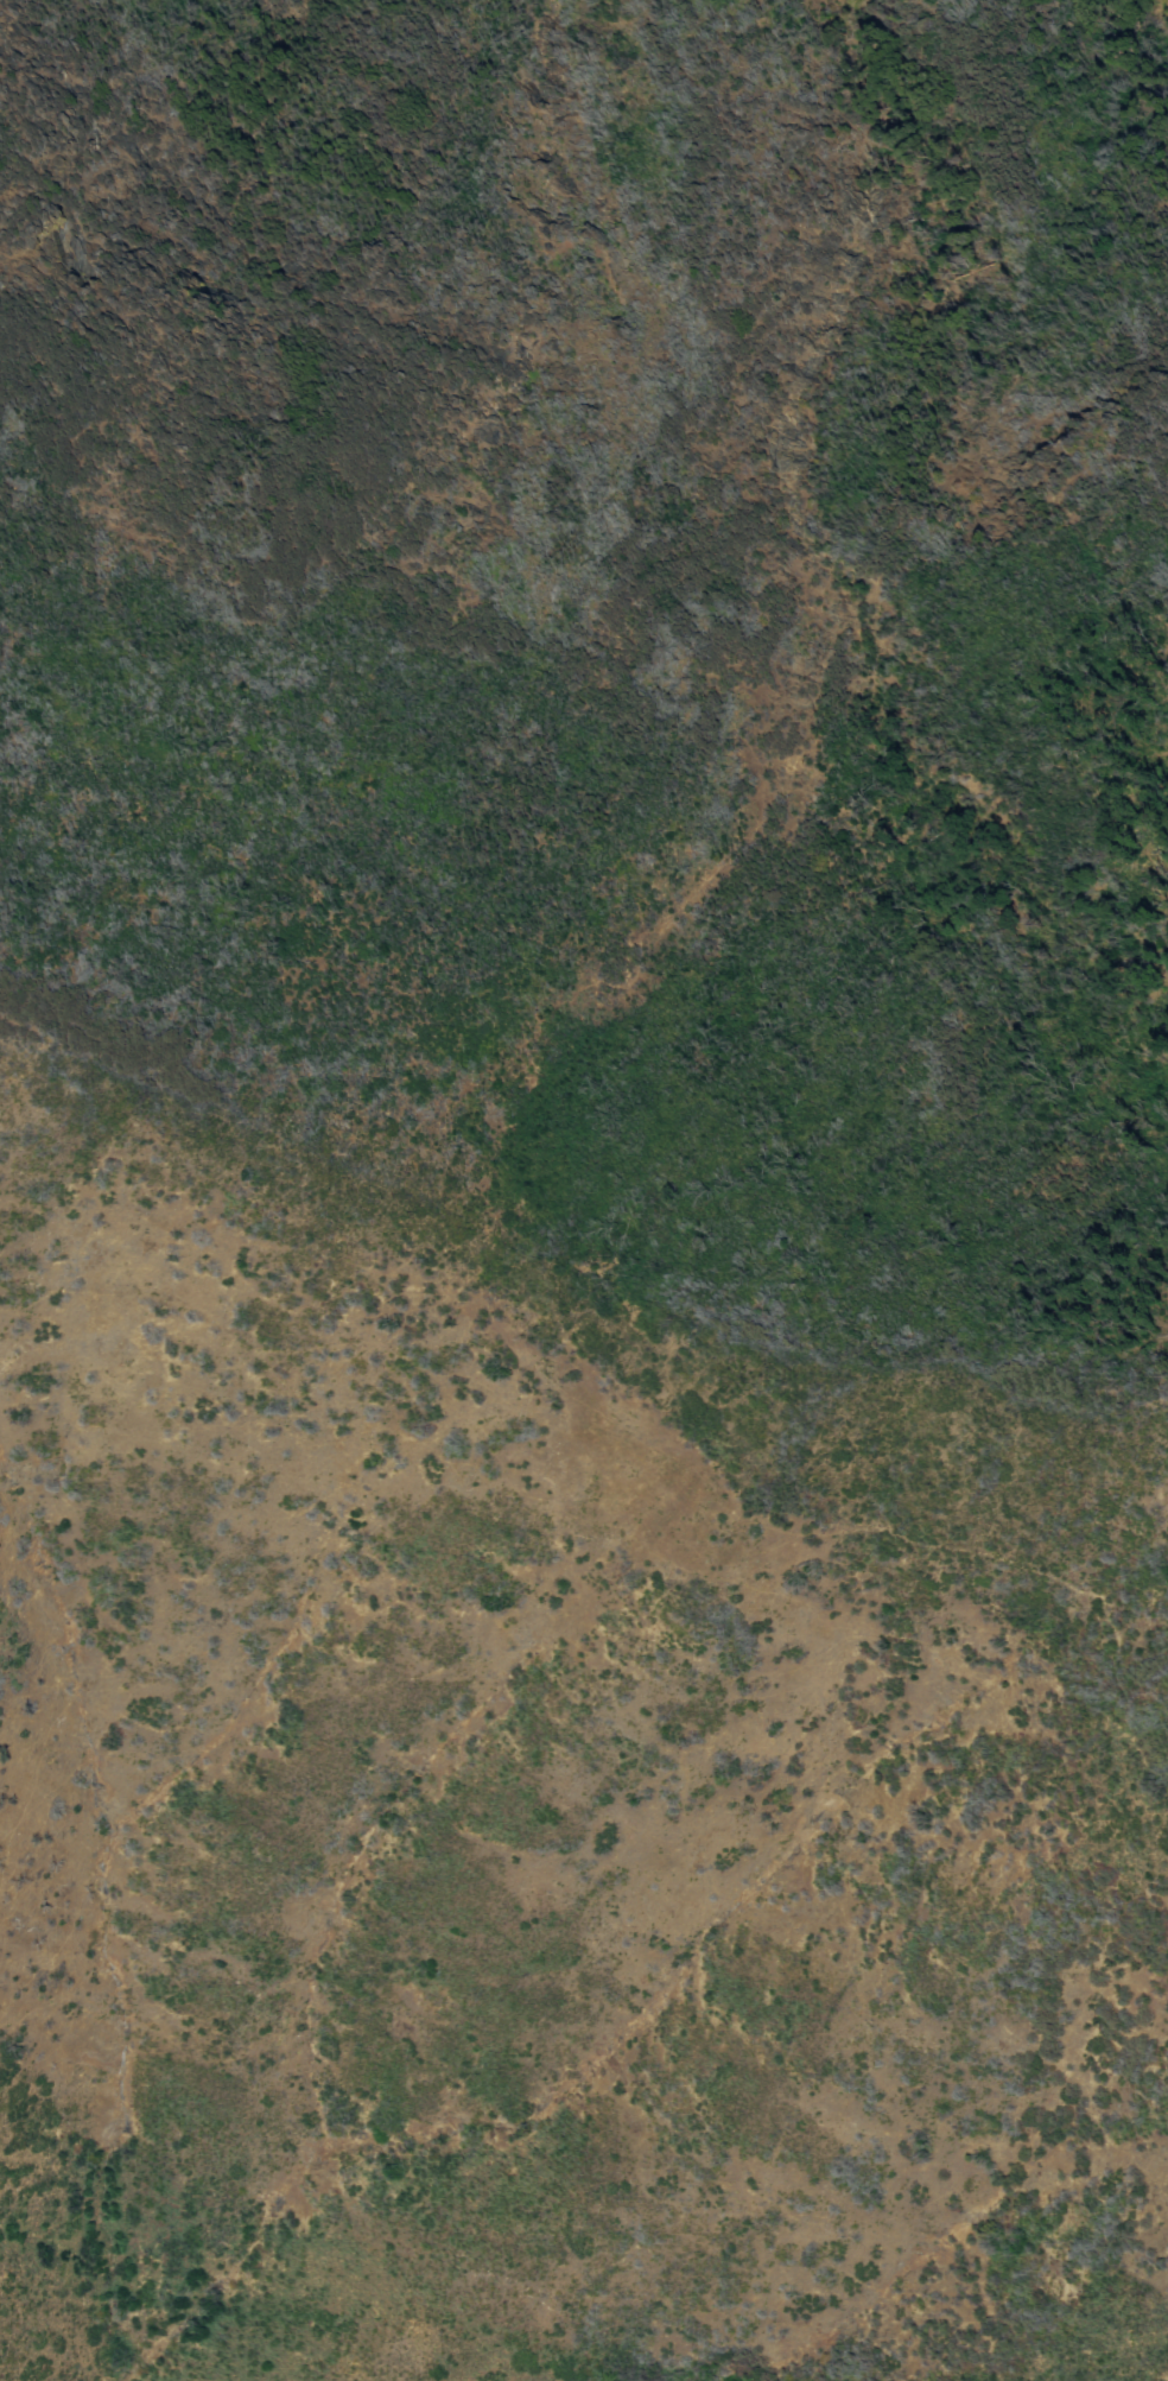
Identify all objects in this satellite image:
road: (624, 1486)

